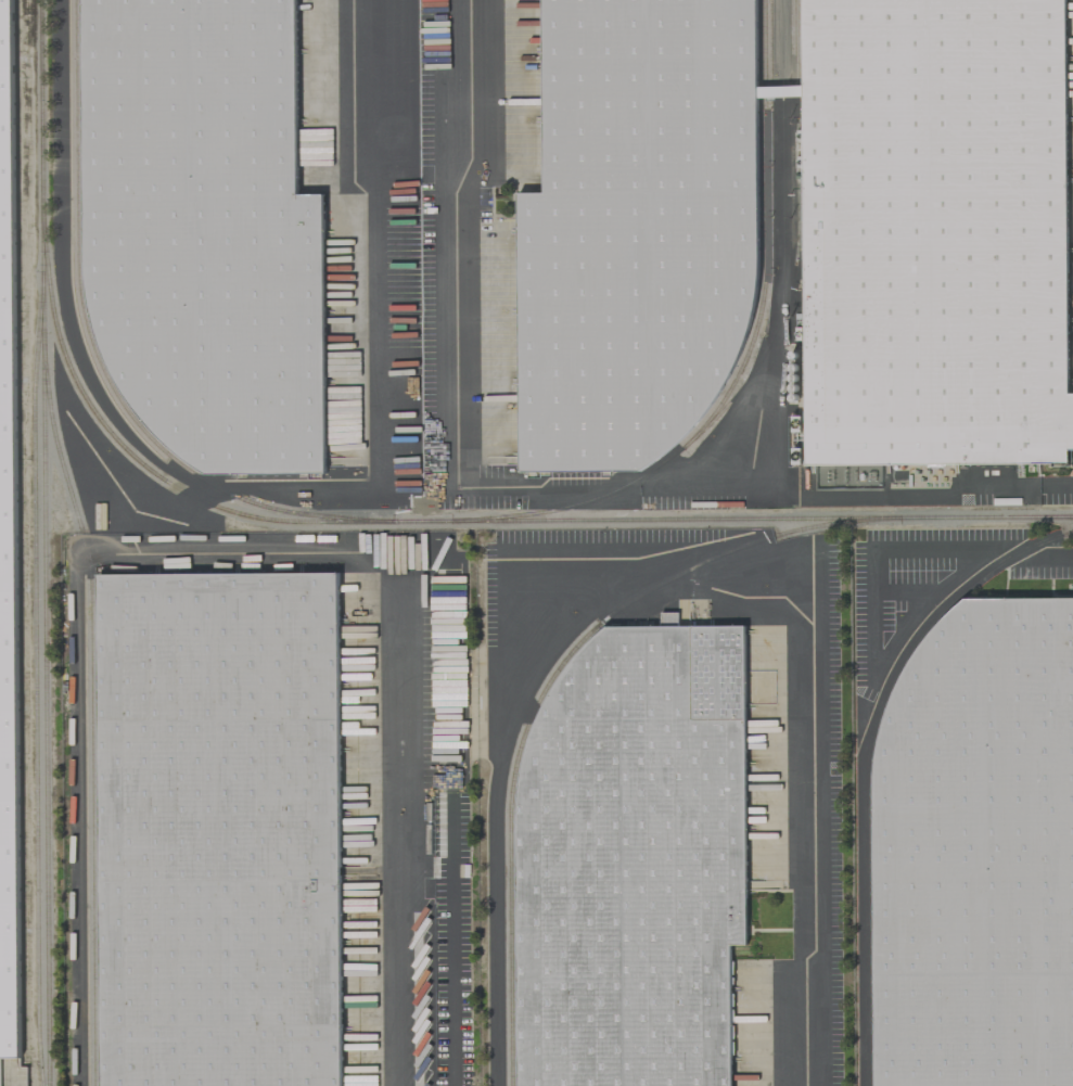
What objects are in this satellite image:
building: (636, 229)
building: (204, 230)
railway: (796, 232)
building: (934, 233)
road: (378, 239)
railway: (749, 347)
railway: (94, 350)
road: (445, 384)
railway: (138, 461)
road: (903, 493)
railway: (725, 519)
railway: (42, 542)
road: (1061, 555)
building: (8, 557)
road: (663, 573)
railway: (34, 689)
railway: (544, 692)
railway: (89, 715)
railway: (868, 761)
building: (219, 830)
road: (400, 835)
building: (631, 852)
building: (976, 853)
road: (452, 986)

